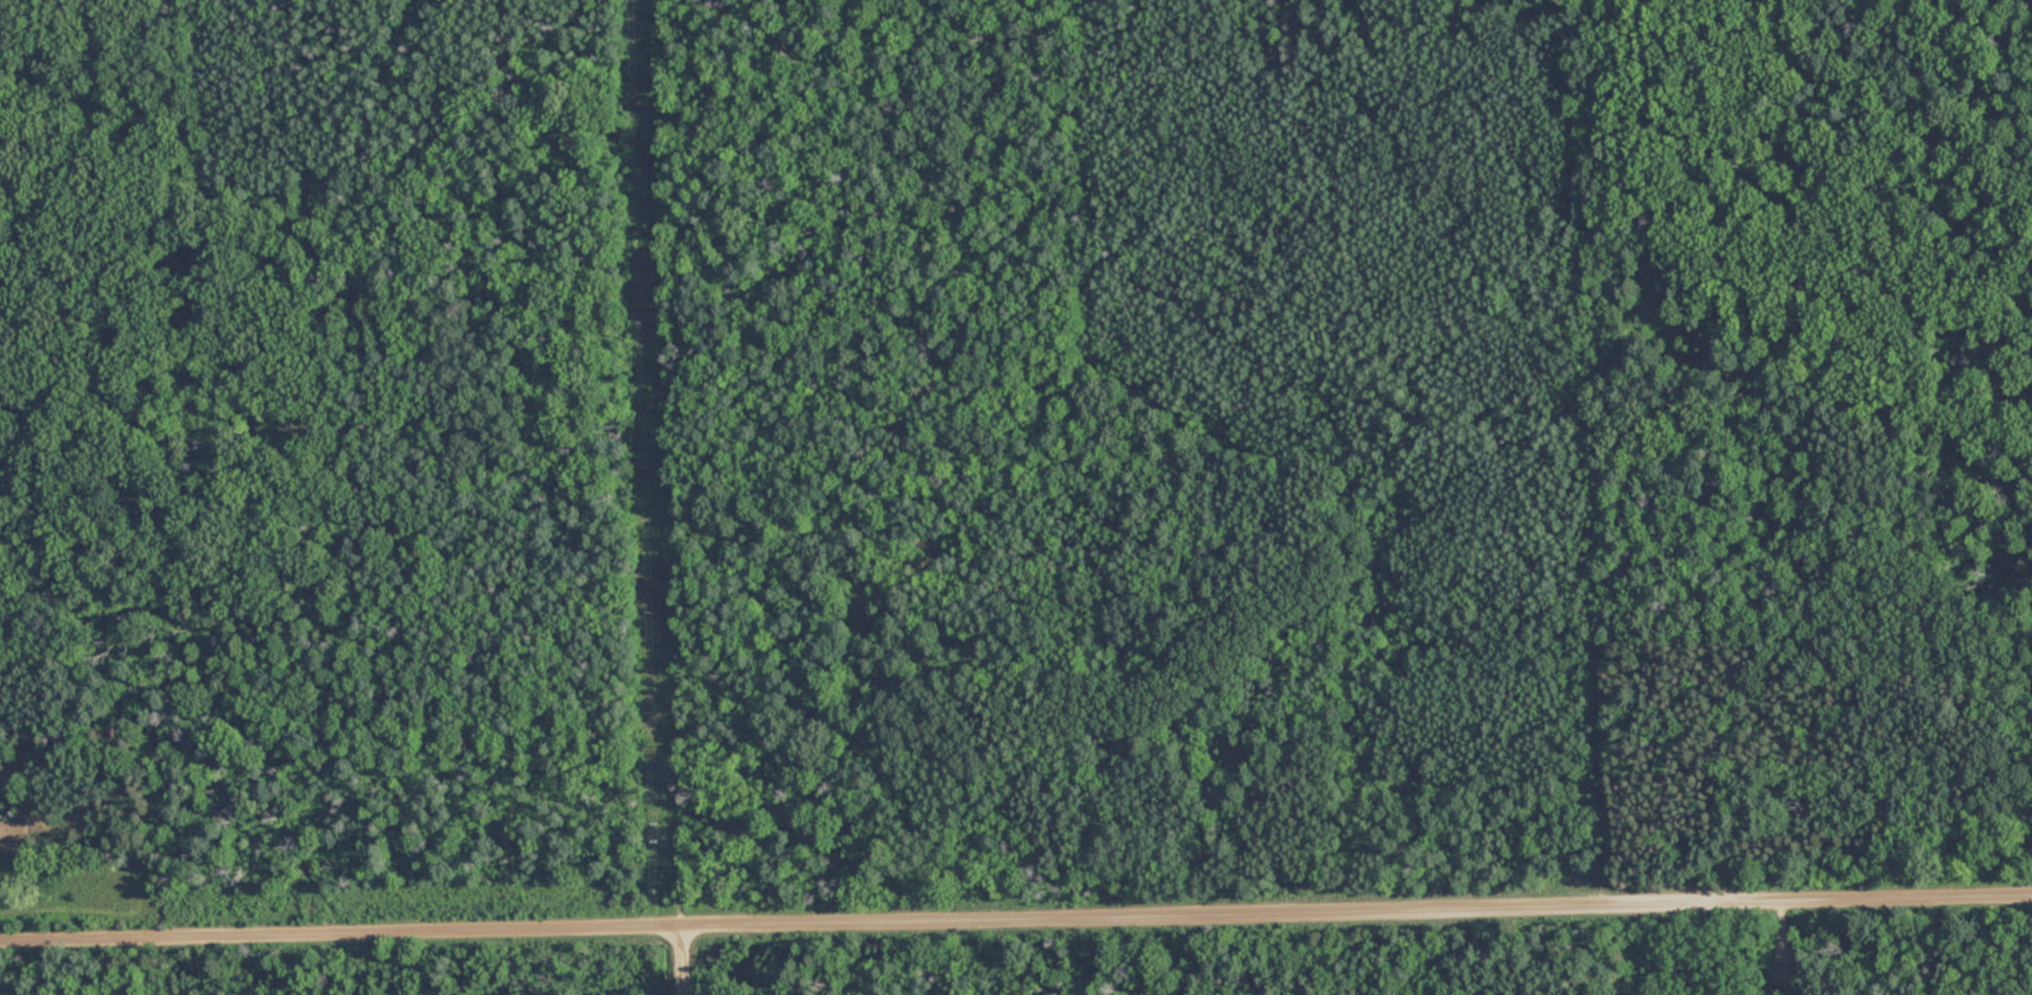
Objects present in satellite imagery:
park: (1082, 474)
road: (1016, 921)
road: (686, 962)

